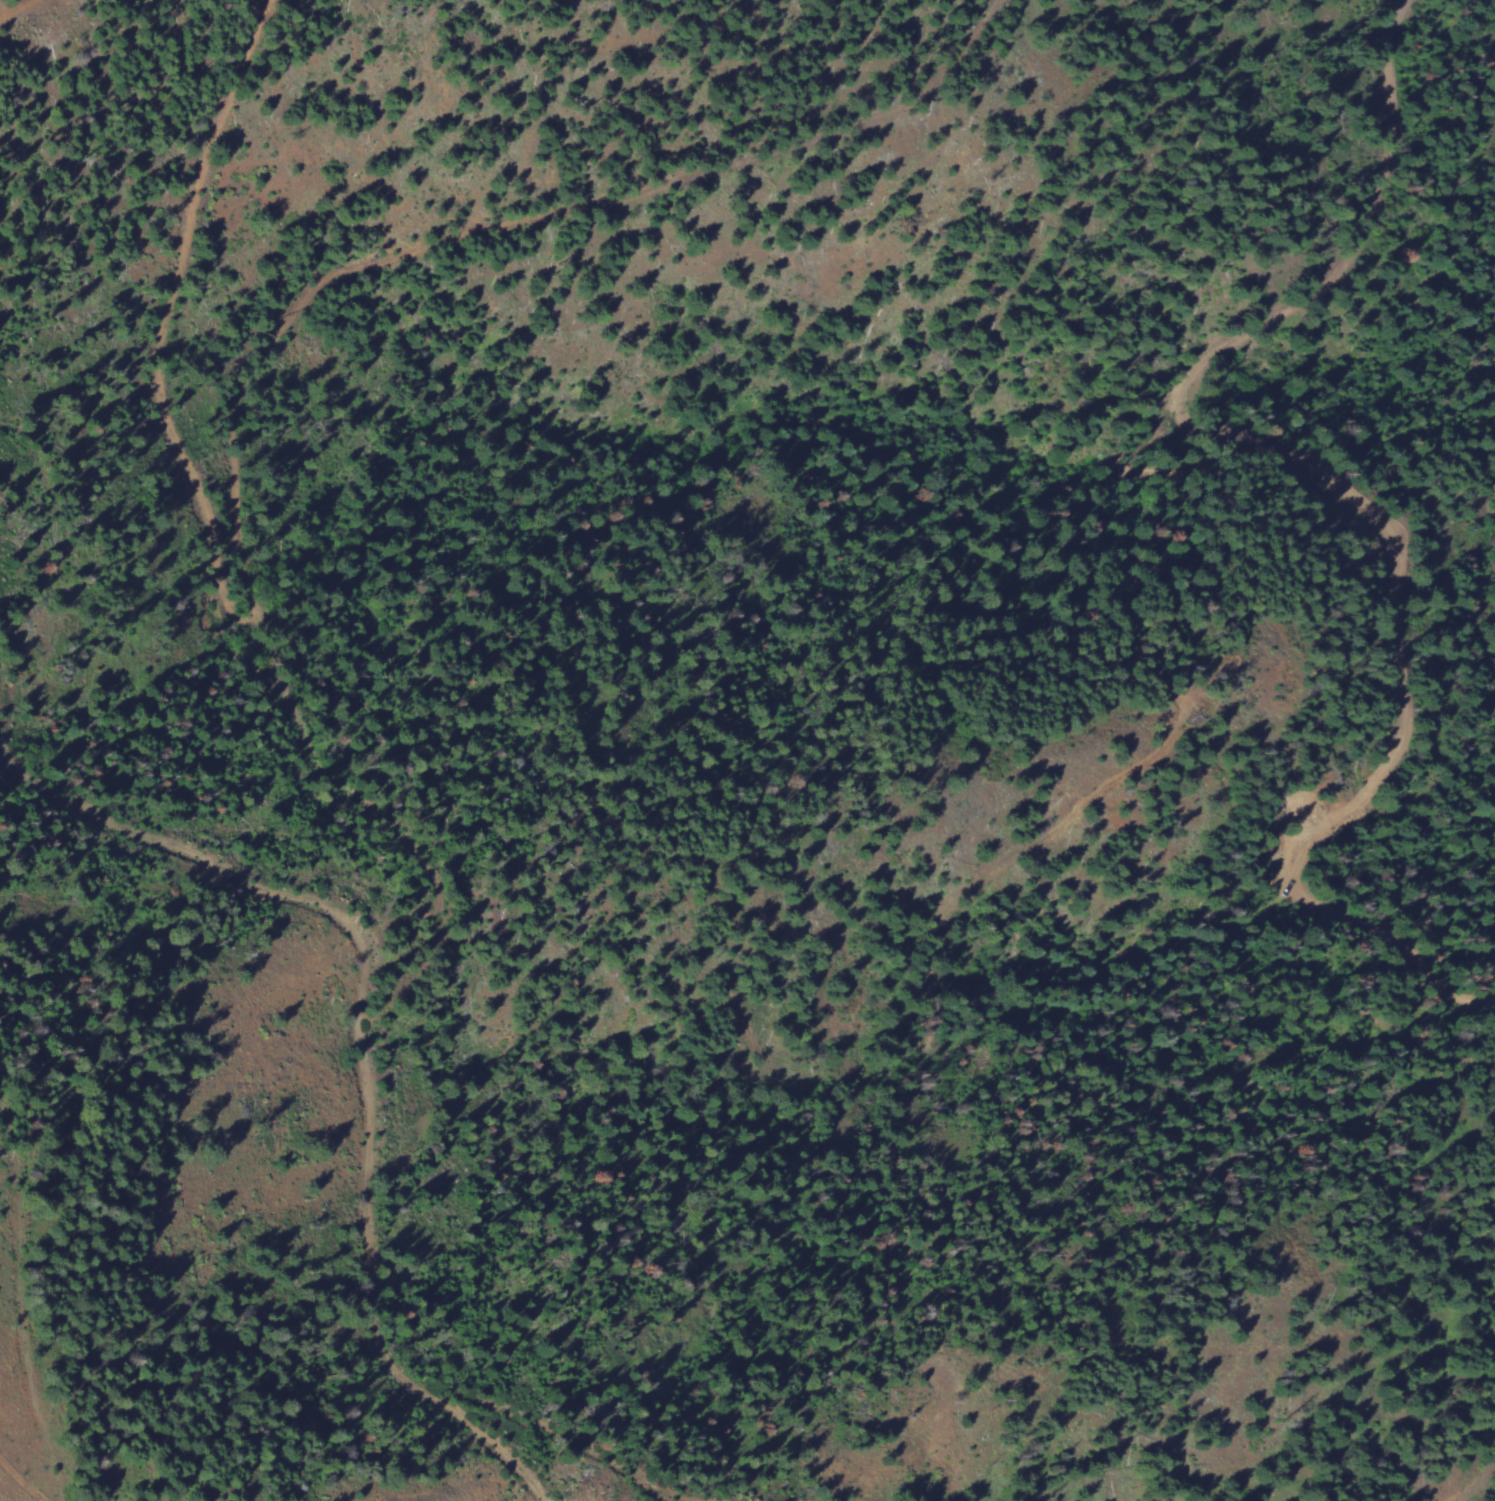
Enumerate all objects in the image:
road: (1310, 544)

